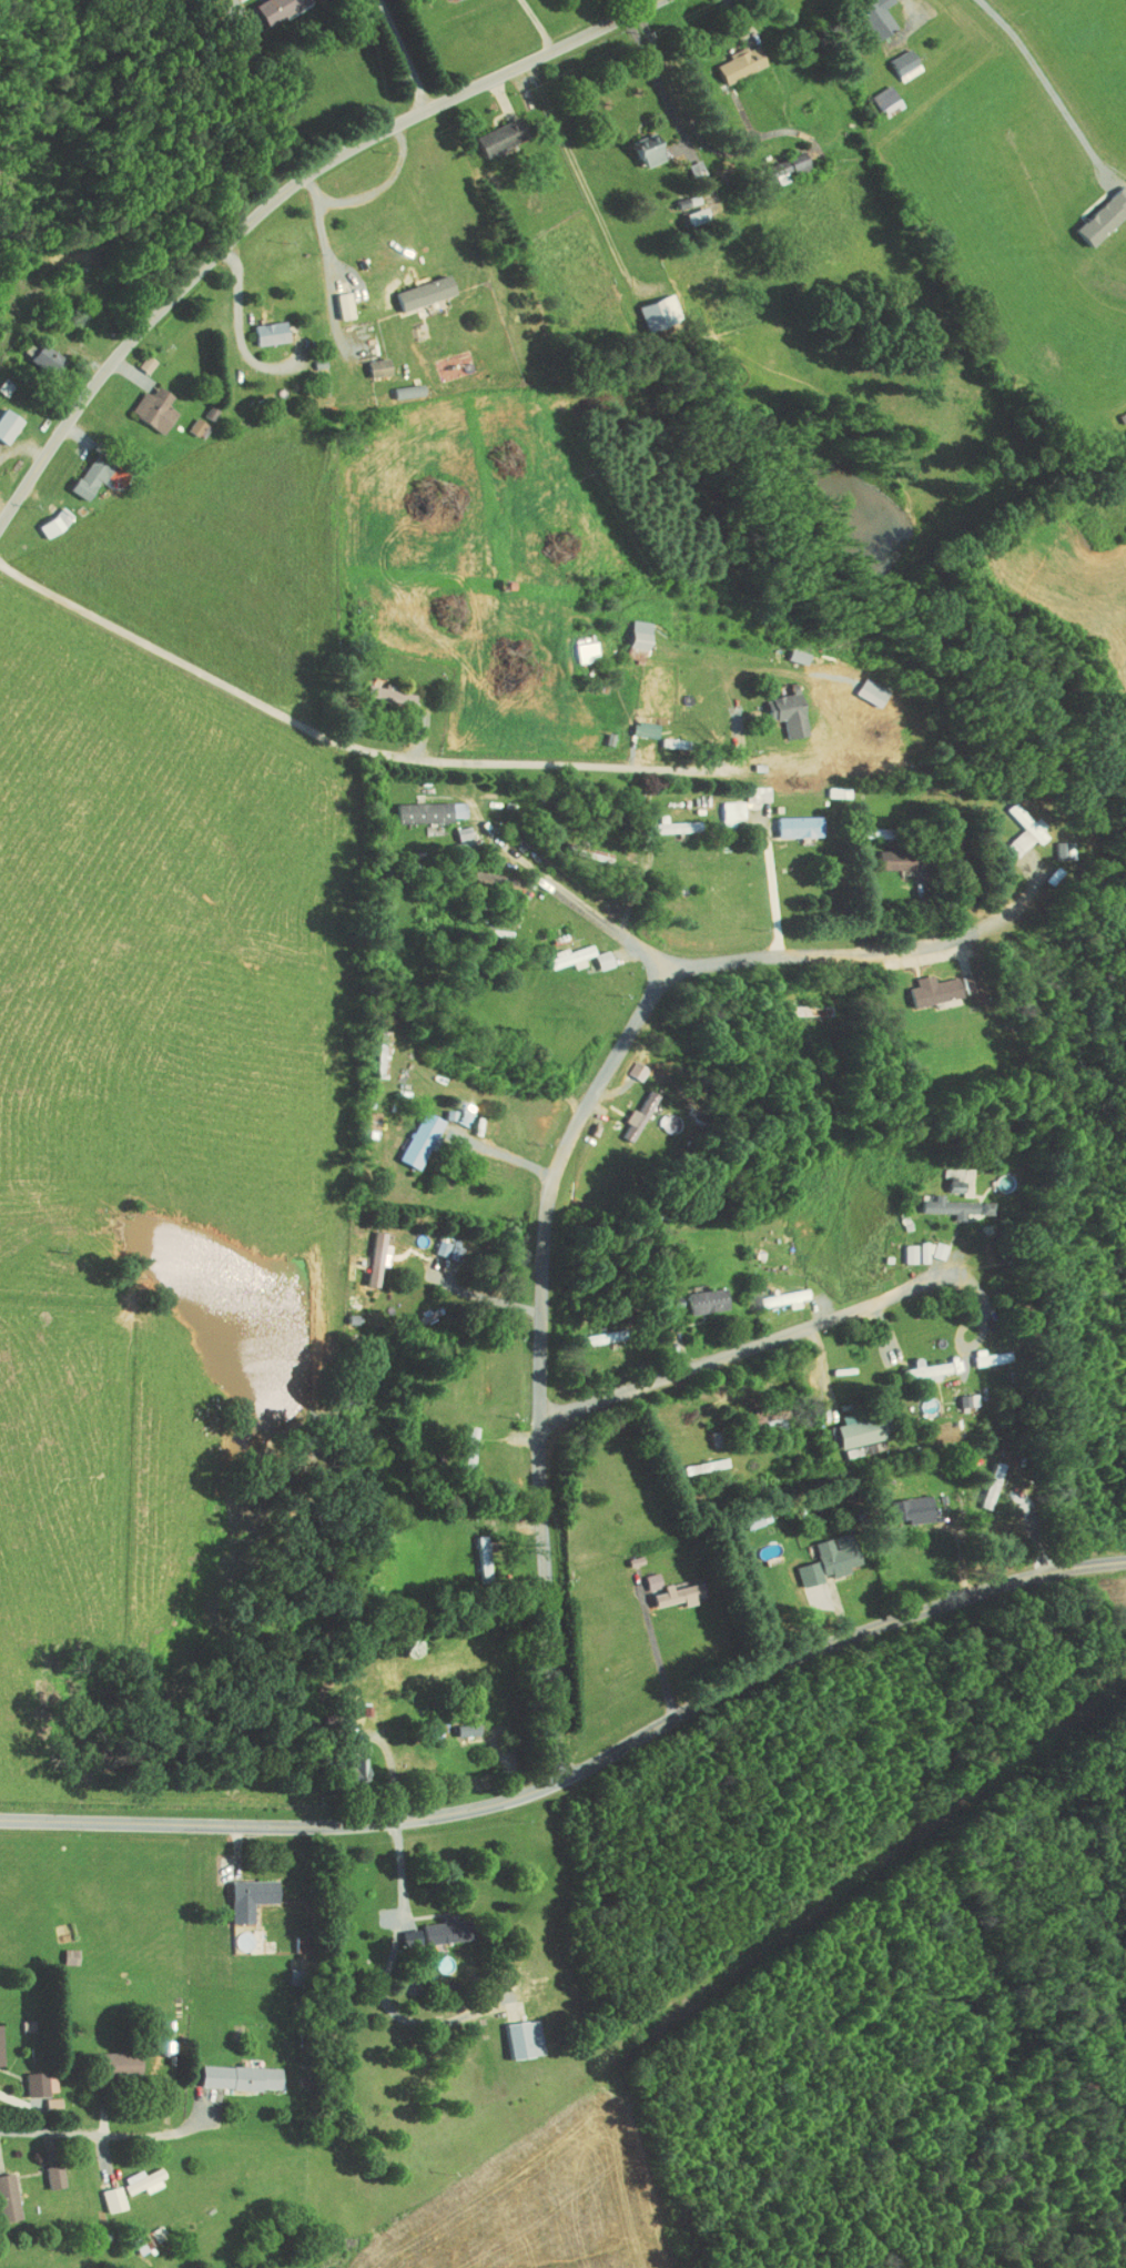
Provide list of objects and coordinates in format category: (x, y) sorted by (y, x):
road: (233, 2)
building: (265, 6)
building: (870, 13)
road: (405, 53)
building: (732, 55)
building: (896, 58)
road: (659, 81)
building: (878, 93)
building: (491, 129)
building: (642, 142)
building: (783, 158)
road: (579, 172)
road: (383, 184)
building: (677, 195)
road: (278, 200)
building: (1097, 209)
building: (60, 249)
road: (329, 265)
building: (417, 285)
building: (335, 298)
building: (651, 305)
building: (262, 326)
road: (241, 336)
building: (38, 352)
building: (138, 356)
building: (371, 360)
building: (399, 384)
building: (145, 402)
building: (4, 417)
building: (186, 419)
building: (84, 468)
building: (44, 517)
building: (631, 627)
building: (577, 645)
building: (382, 689)
building: (779, 705)
building: (636, 723)
road: (346, 748)
building: (826, 786)
building: (732, 798)
building: (420, 804)
building: (662, 819)
building: (790, 819)
building: (1014, 823)
building: (1053, 843)
building: (886, 852)
building: (473, 870)
road: (773, 884)
road: (571, 895)
building: (570, 951)
building: (923, 983)
building: (628, 1062)
building: (629, 1107)
building: (410, 1134)
road: (497, 1148)
road: (556, 1155)
building: (940, 1201)
building: (907, 1246)
building: (367, 1252)
building: (775, 1292)
building: (697, 1294)
building: (596, 1330)
building: (982, 1350)
building: (920, 1361)
road: (729, 1364)
building: (958, 1394)
building: (852, 1421)
building: (983, 1477)
building: (904, 1502)
building: (496, 1526)
building: (473, 1552)
building: (821, 1552)
building: (643, 1573)
building: (672, 1588)
building: (459, 1722)
road: (578, 1770)
building: (241, 1891)
building: (438, 1923)
building: (61, 1950)
building: (515, 2032)
building: (232, 2069)
building: (32, 2076)
building: (44, 2095)
road: (103, 2133)
building: (45, 2169)
building: (133, 2174)
building: (103, 2191)
building: (4, 2194)
building: (42, 2266)

